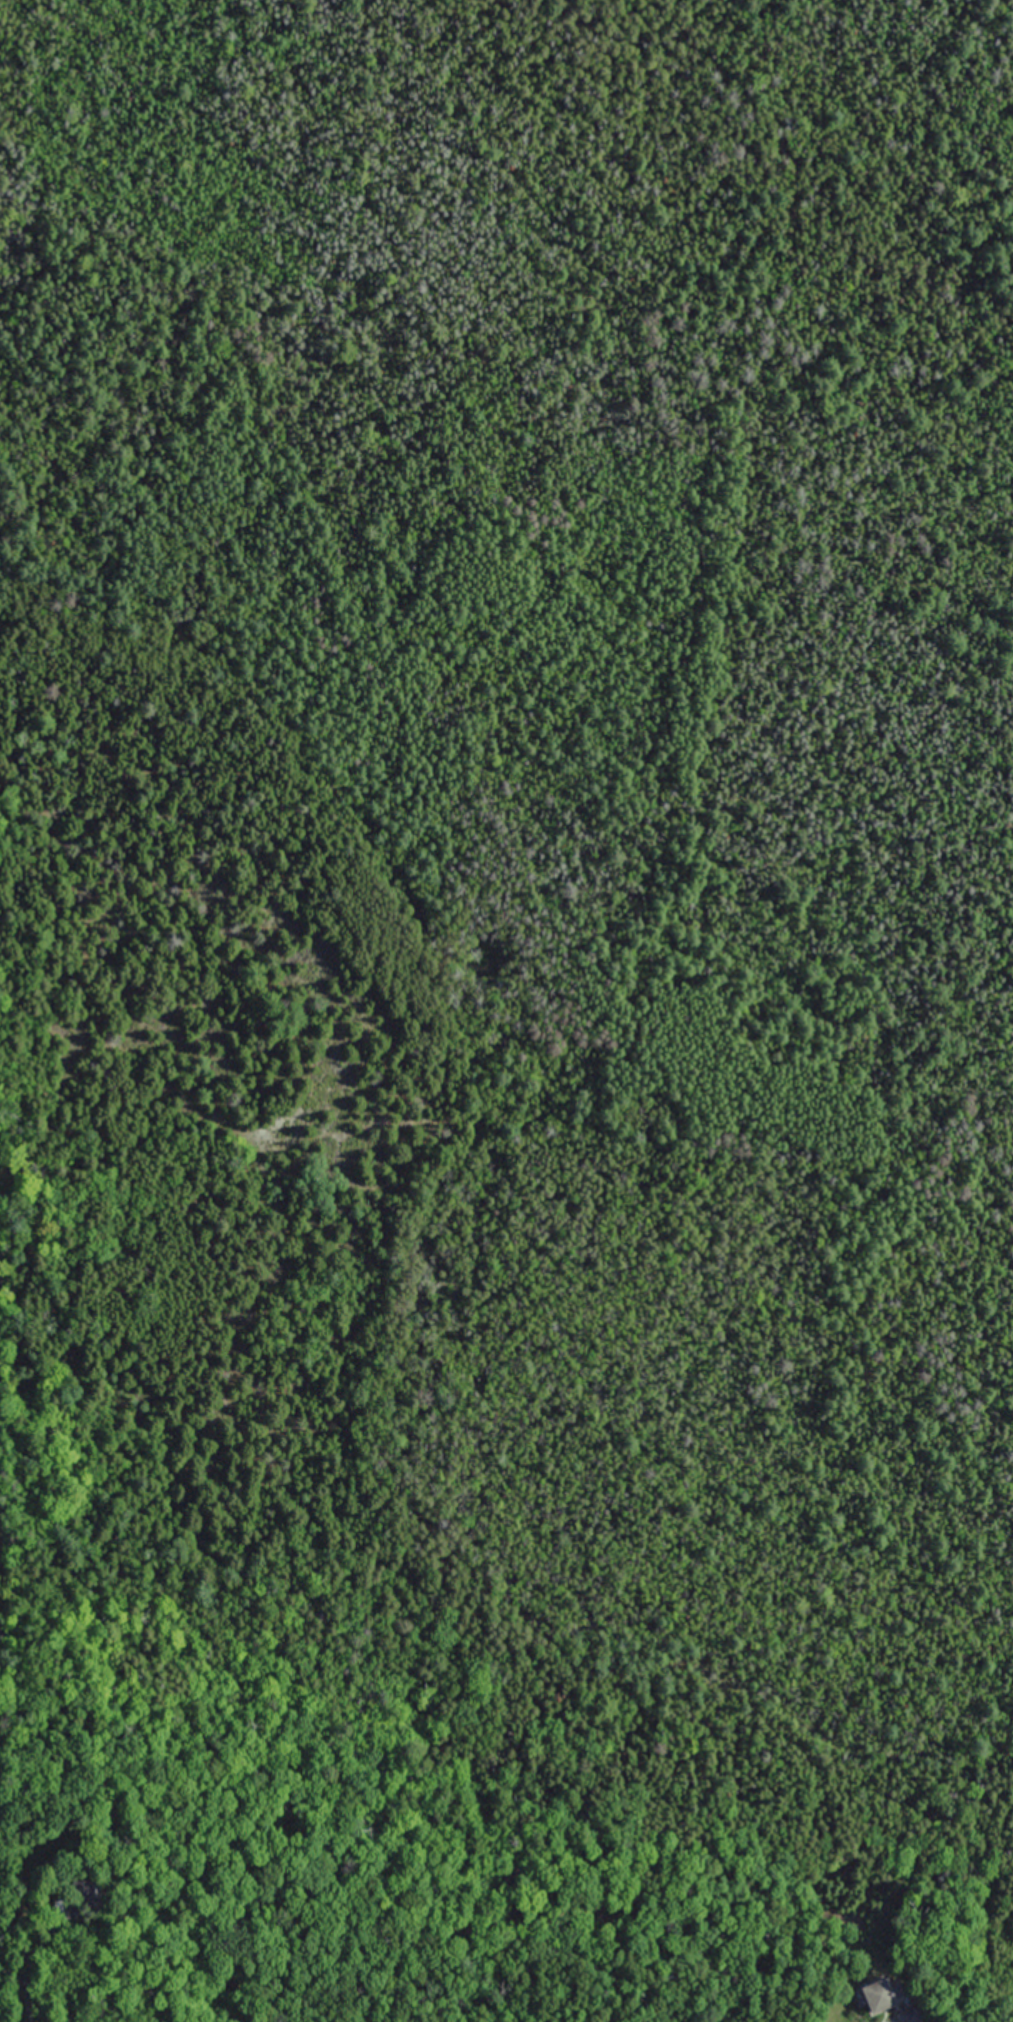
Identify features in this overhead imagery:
building: (873, 1997)
building: (907, 2017)

